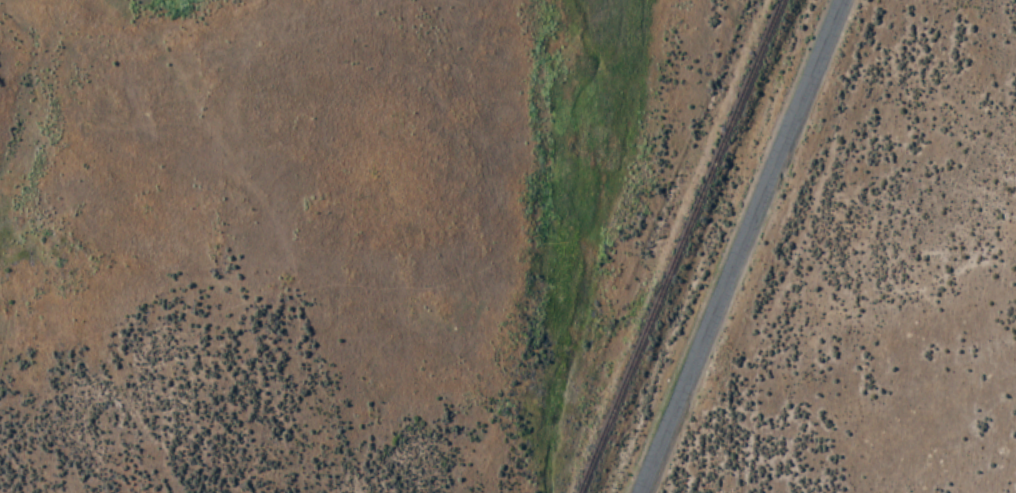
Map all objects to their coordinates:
road: (739, 245)
railway: (680, 246)

